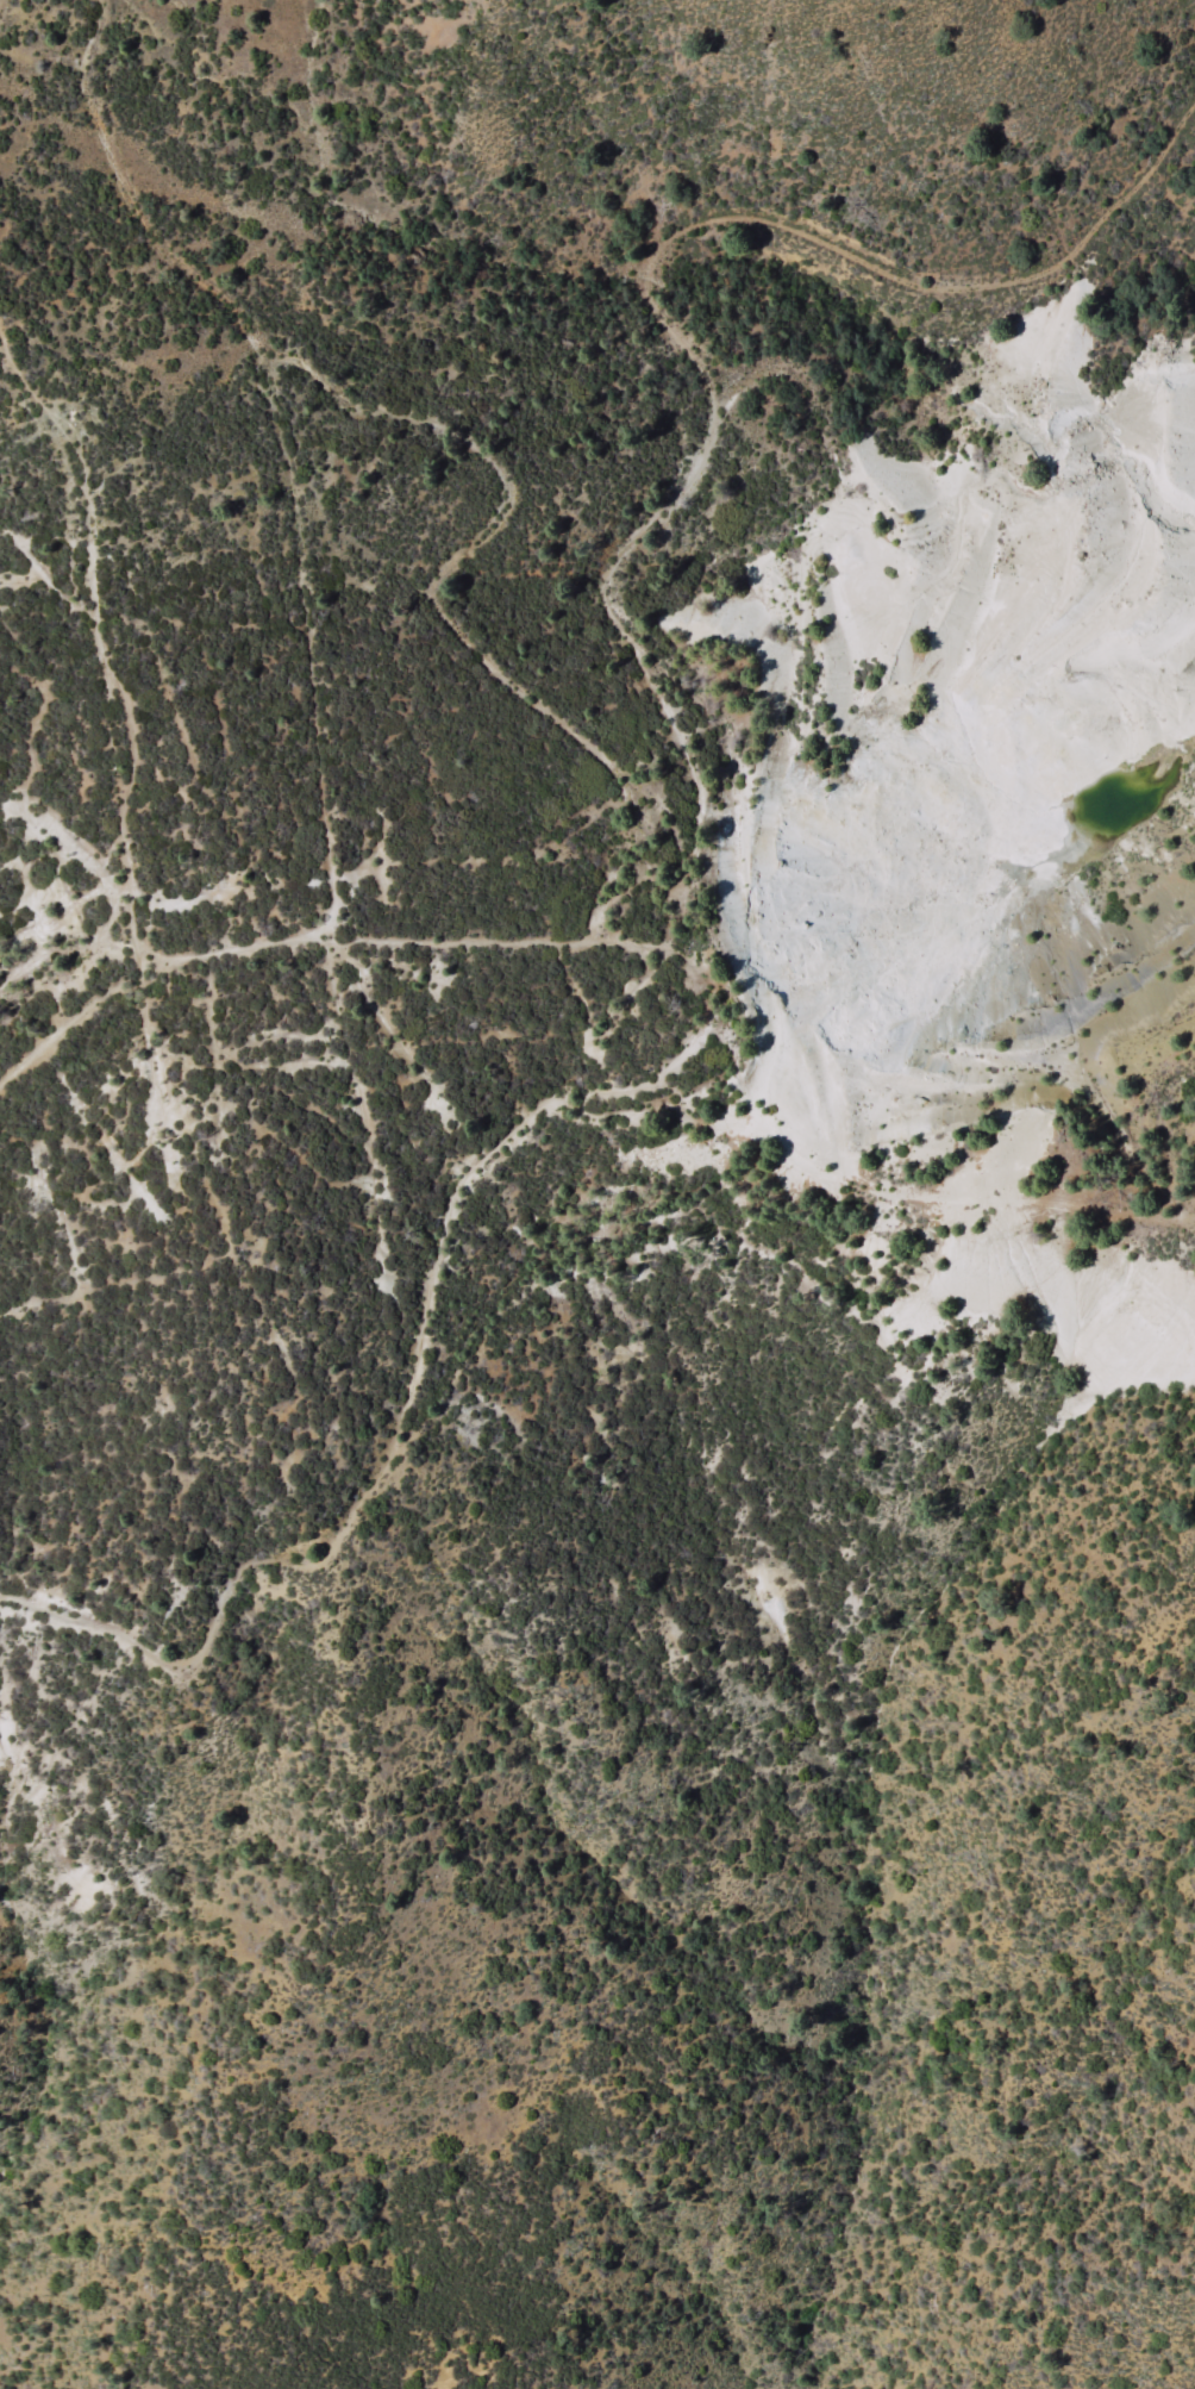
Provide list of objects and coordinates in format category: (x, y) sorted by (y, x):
quarry: (964, 837)
road: (643, 896)
road: (811, 1262)

